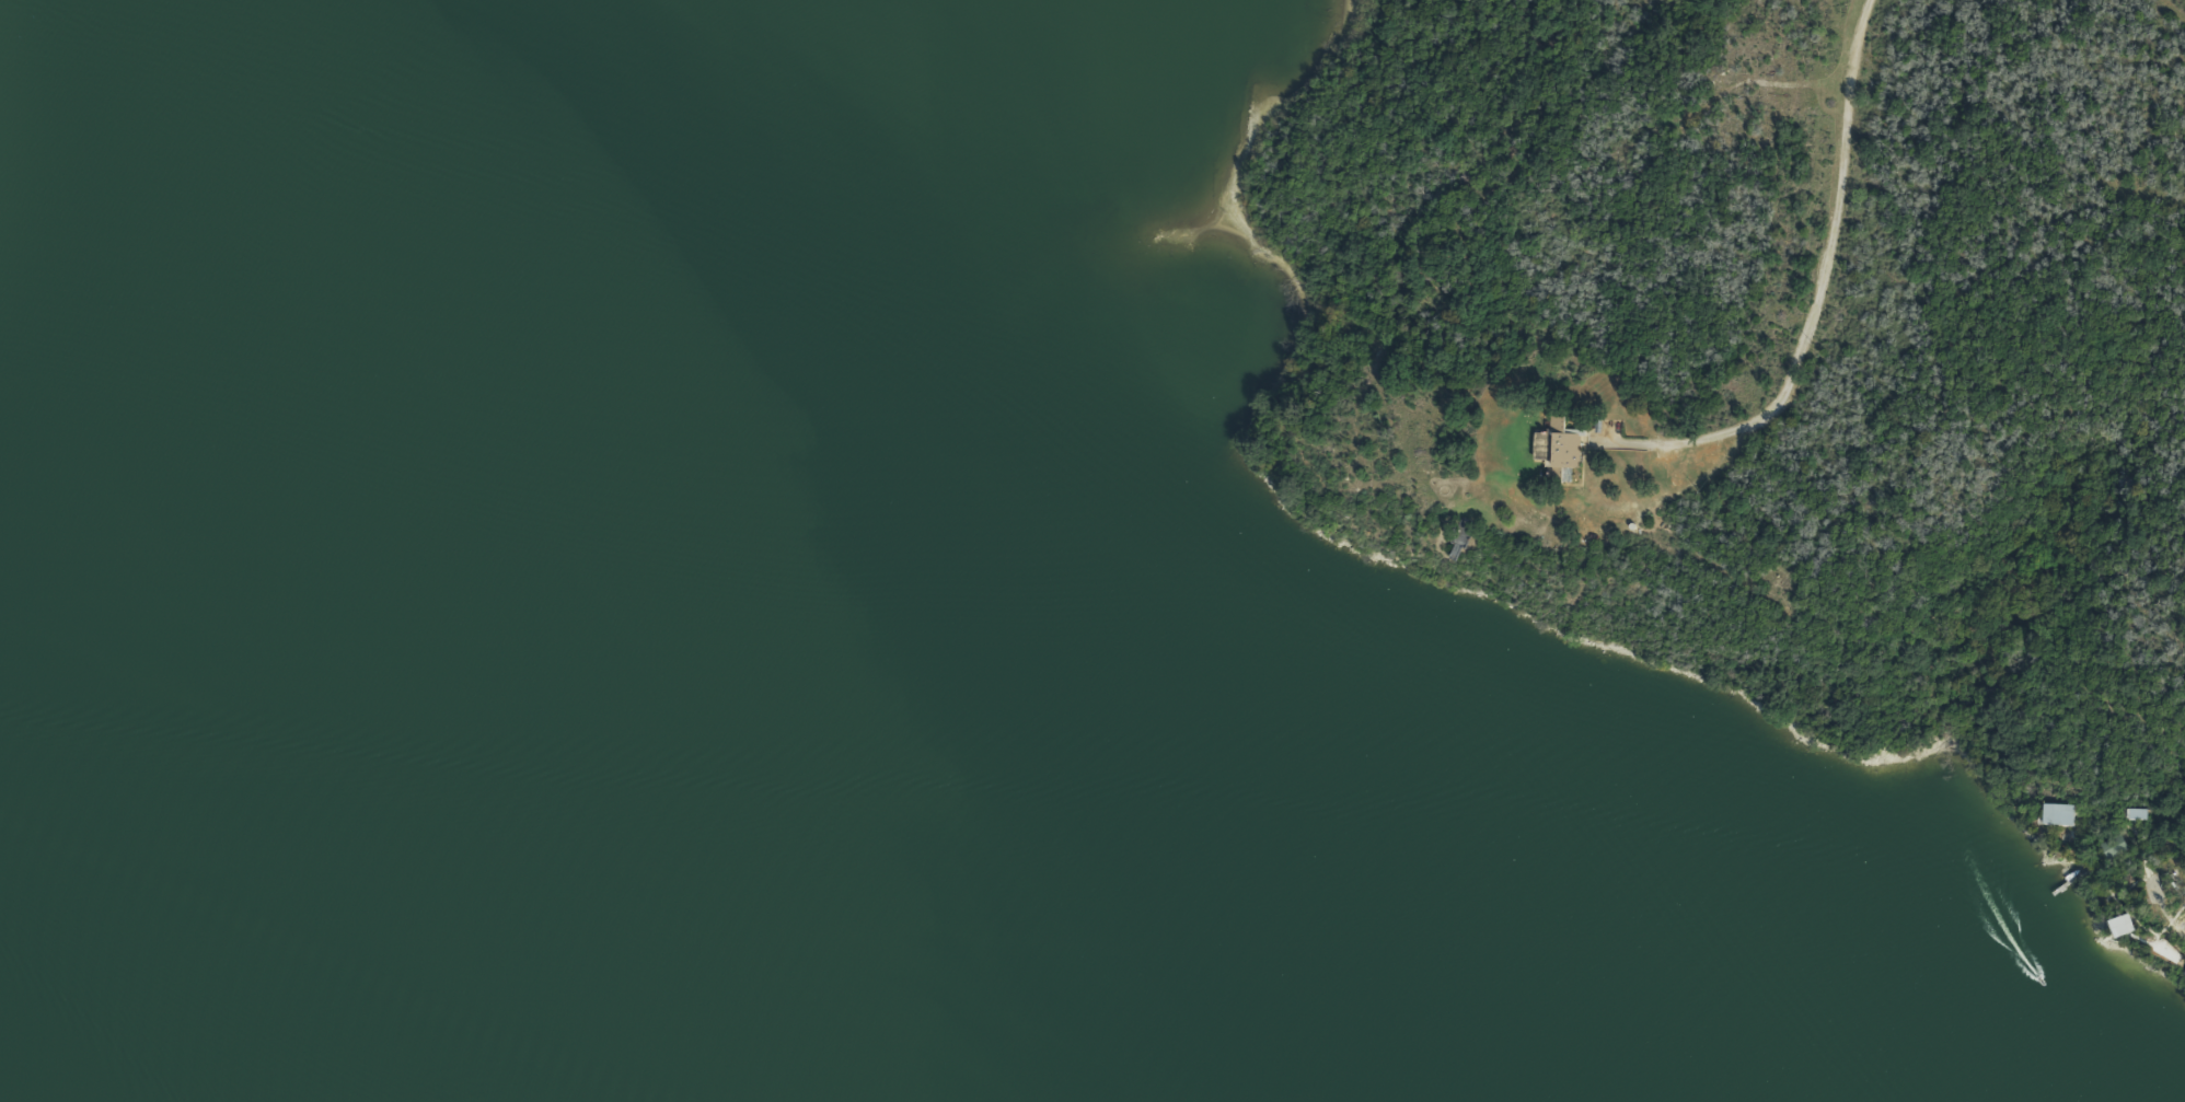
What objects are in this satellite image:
road: (1807, 287)
building: (1557, 451)
building: (2051, 814)
river: (629, 905)
building: (2112, 927)

